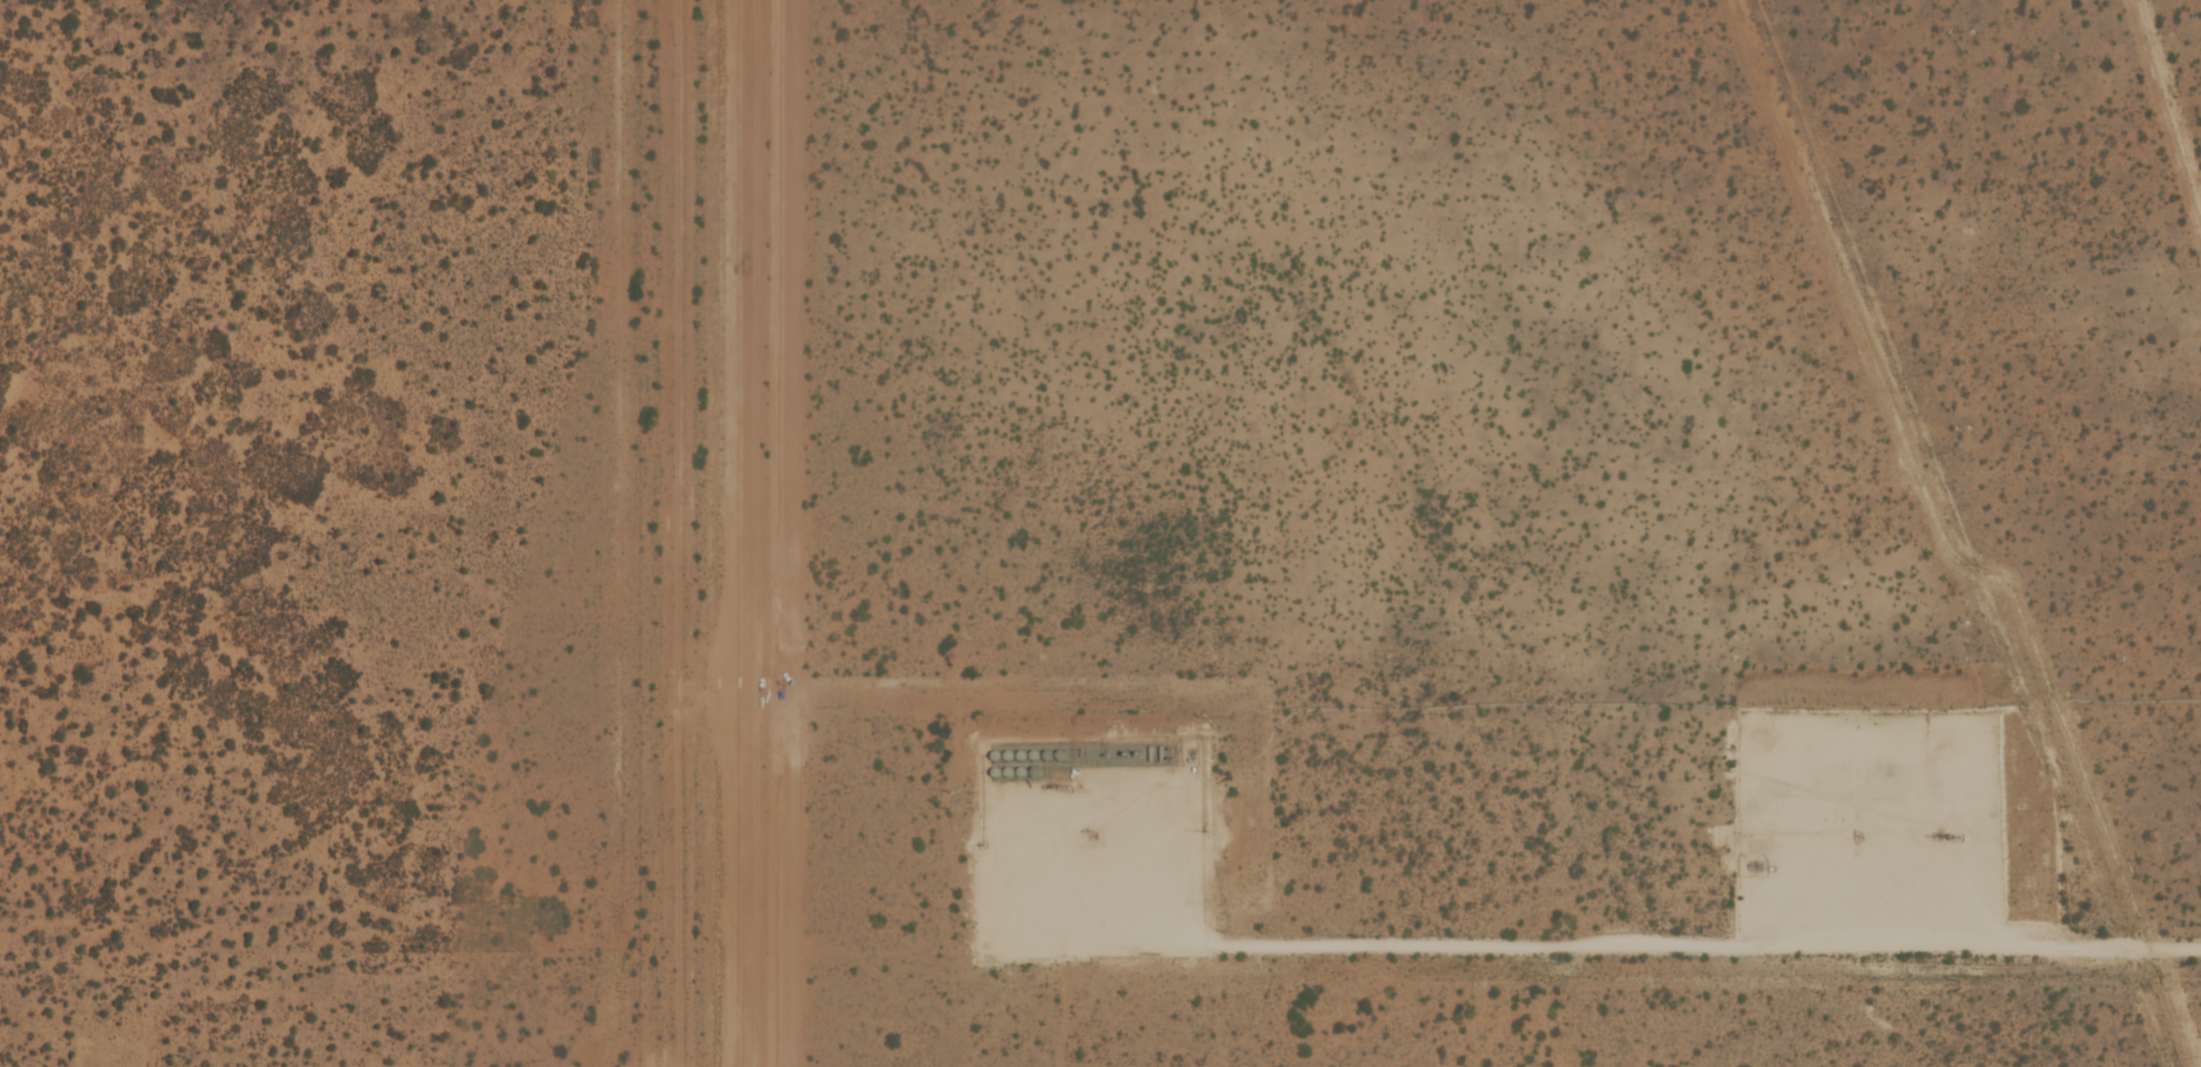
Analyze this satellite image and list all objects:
road: (1873, 831)
petroleum well: (1091, 832)
petroleum well: (1856, 835)
road: (1109, 871)
road: (1594, 948)

